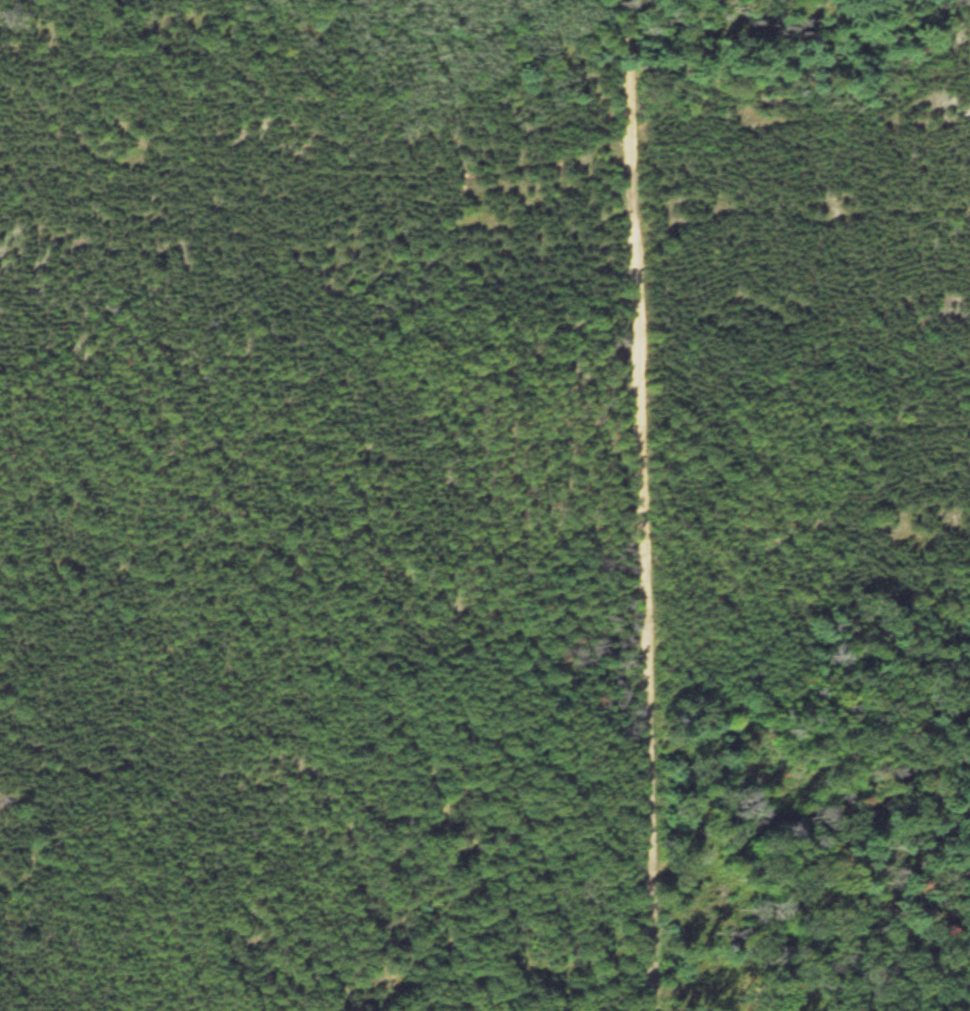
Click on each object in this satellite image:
road: (497, 173)
road: (646, 505)

